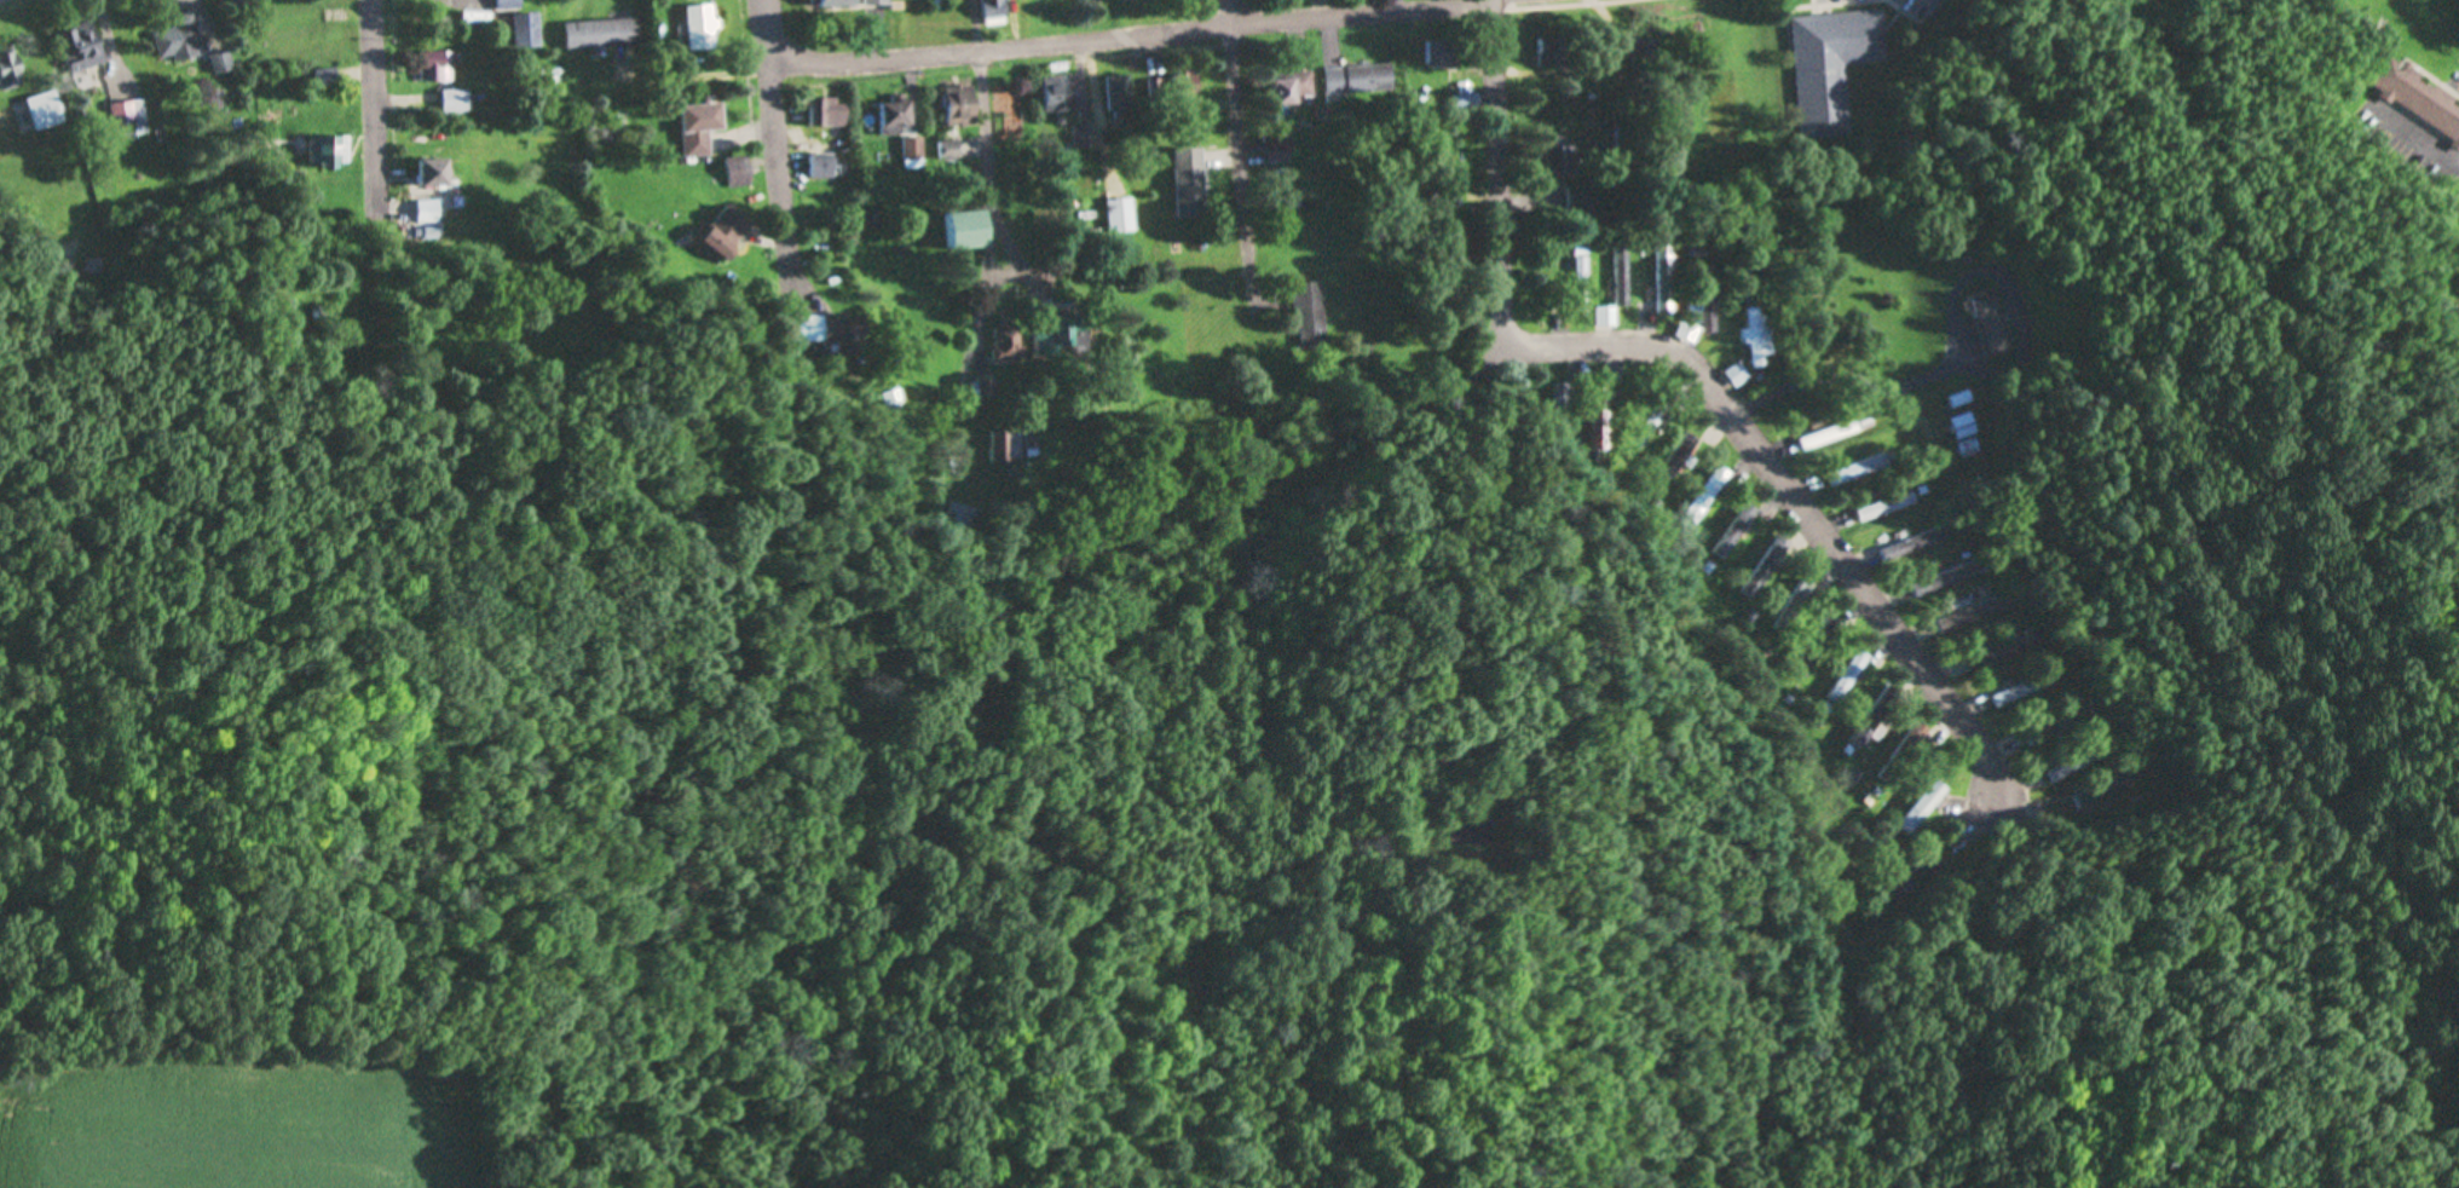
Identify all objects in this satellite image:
building: (878, 2)
building: (839, 4)
building: (995, 4)
building: (510, 5)
building: (703, 29)
building: (527, 31)
building: (602, 34)
road: (1143, 38)
building: (179, 41)
building: (81, 48)
building: (1442, 53)
building: (1645, 53)
building: (1552, 54)
building: (223, 63)
building: (1831, 67)
building: (437, 68)
building: (8, 73)
building: (1358, 79)
building: (1185, 86)
building: (1292, 88)
building: (1058, 97)
building: (2417, 98)
building: (1126, 100)
building: (456, 102)
building: (963, 106)
building: (45, 111)
building: (831, 114)
building: (897, 119)
building: (129, 120)
road: (379, 128)
building: (703, 129)
road: (988, 137)
road: (783, 144)
building: (953, 150)
building: (329, 152)
building: (918, 155)
building: (1559, 161)
building: (826, 167)
road: (1246, 168)
road: (1500, 172)
building: (433, 174)
building: (1193, 184)
park: (2296, 191)
building: (1447, 194)
building: (1581, 201)
building: (428, 212)
building: (1124, 217)
building: (969, 231)
building: (727, 233)
road: (47, 242)
building: (1622, 276)
building: (1666, 278)
building: (1581, 288)
building: (1709, 294)
building: (1312, 316)
building: (1606, 317)
building: (1987, 322)
building: (820, 329)
building: (1760, 338)
building: (1067, 339)
building: (1010, 345)
building: (1739, 375)
road: (1480, 388)
building: (988, 390)
building: (894, 398)
road: (1765, 400)
building: (1652, 428)
building: (1831, 436)
road: (1410, 445)
building: (1004, 451)
building: (1679, 465)
building: (1859, 471)
building: (1709, 496)
road: (1799, 503)
building: (1886, 507)
building: (1736, 532)
building: (1915, 546)
building: (1767, 567)
building: (1946, 579)
building: (1795, 610)
building: (1970, 616)
building: (1817, 648)
building: (1987, 656)
building: (1847, 679)
building: (2020, 691)
building: (1875, 719)
building: (2056, 728)
building: (1904, 755)
building: (2066, 772)
building: (2111, 789)
building: (1924, 809)
crop: (284, 1119)

